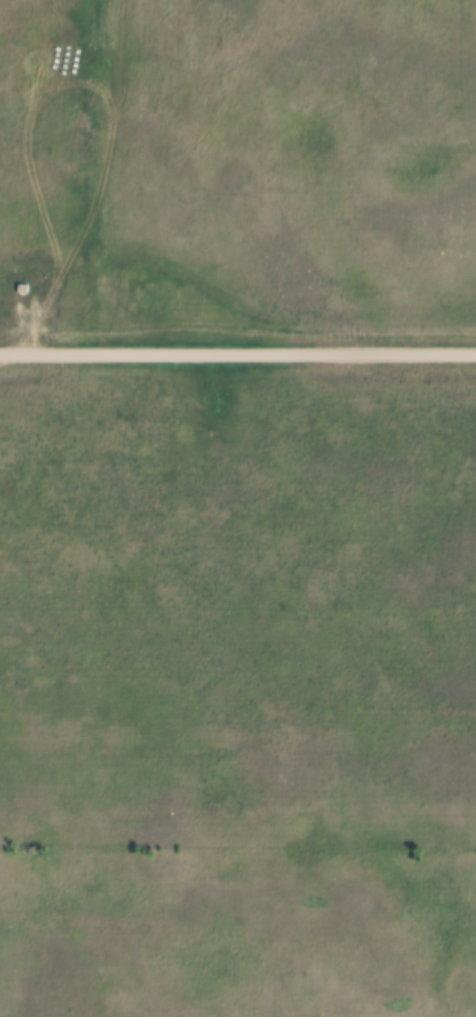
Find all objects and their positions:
building: (22, 292)
road: (237, 355)

